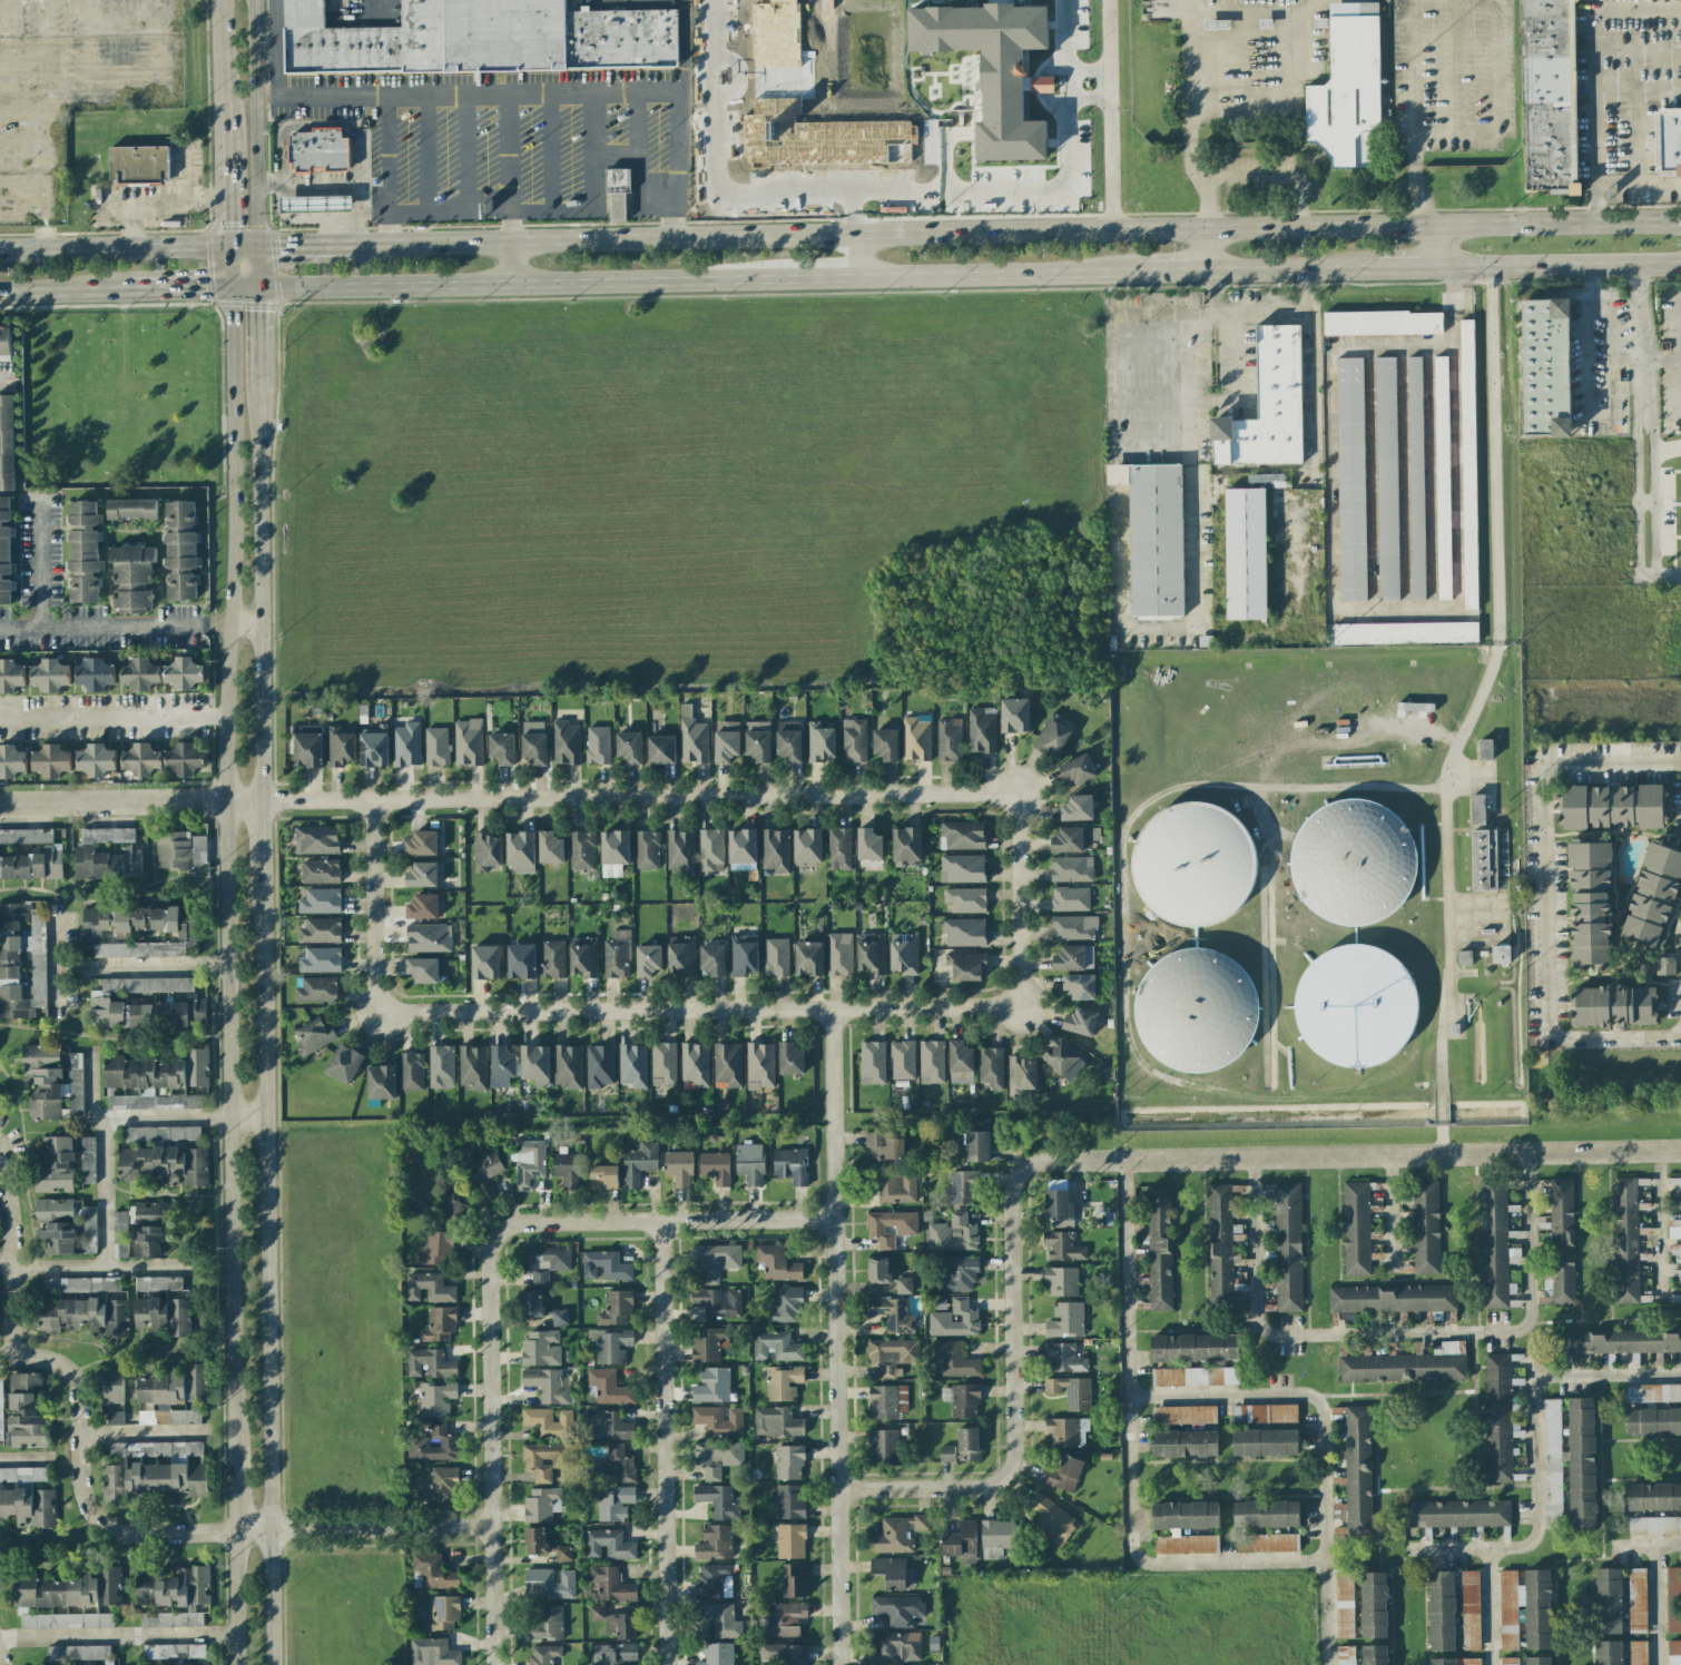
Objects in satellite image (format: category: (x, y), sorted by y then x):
road: (1417, 6)
building: (482, 38)
road: (681, 43)
road: (217, 68)
building: (993, 69)
road: (1088, 70)
road: (1595, 72)
building: (1347, 87)
road: (543, 90)
building: (1550, 96)
road: (1287, 101)
road: (1109, 114)
road: (256, 122)
road: (592, 124)
road: (636, 125)
road: (318, 126)
road: (47, 132)
road: (1188, 132)
building: (1670, 140)
building: (318, 150)
road: (463, 150)
road: (508, 150)
road: (549, 150)
road: (426, 151)
building: (138, 165)
road: (393, 167)
road: (1418, 180)
road: (1638, 184)
road: (332, 188)
building: (617, 190)
road: (1035, 190)
road: (334, 191)
road: (224, 193)
road: (296, 193)
road: (316, 193)
road: (296, 204)
building: (315, 204)
road: (316, 204)
road: (334, 204)
road: (1210, 204)
road: (563, 210)
road: (42, 215)
road: (296, 215)
road: (317, 215)
road: (334, 215)
road: (298, 219)
road: (510, 224)
road: (1016, 230)
road: (305, 245)
road: (1437, 246)
road: (242, 247)
traffic signals: (257, 247)
traffic signals: (227, 248)
road: (1210, 248)
road: (112, 249)
road: (855, 255)
road: (510, 260)
road: (1559, 264)
road: (228, 266)
road: (257, 266)
road: (1405, 267)
road: (1291, 268)
road: (1173, 269)
road: (996, 274)
road: (822, 277)
road: (509, 283)
traffic signals: (229, 285)
traffic signals: (258, 285)
road: (177, 286)
road: (62, 290)
road: (1309, 292)
road: (1636, 311)
road: (1310, 322)
building: (1382, 323)
road: (1109, 328)
road: (1589, 336)
road: (258, 338)
building: (4, 339)
road: (1233, 357)
road: (1660, 357)
building: (4, 358)
building: (1545, 367)
road: (1606, 375)
road: (3, 384)
building: (1267, 405)
road: (1462, 436)
building: (6, 443)
building: (1468, 464)
building: (1416, 477)
building: (1442, 477)
road: (1331, 479)
building: (1350, 479)
building: (1386, 479)
road: (1641, 484)
road: (1249, 501)
building: (130, 509)
building: (1153, 536)
building: (181, 550)
building: (83, 551)
building: (4, 552)
building: (1245, 553)
road: (1193, 571)
road: (43, 577)
building: (132, 577)
road: (258, 595)
road: (244, 625)
road: (115, 631)
building: (1405, 632)
building: (184, 672)
building: (11, 673)
building: (95, 673)
building: (139, 673)
building: (50, 674)
building: (1415, 707)
road: (1473, 710)
building: (1013, 715)
road: (111, 717)
building: (981, 730)
building: (1052, 735)
building: (691, 737)
building: (915, 738)
building: (947, 739)
building: (757, 740)
building: (788, 740)
building: (854, 740)
building: (726, 741)
building: (468, 742)
building: (533, 742)
building: (566, 742)
building: (820, 742)
building: (885, 743)
building: (405, 745)
building: (598, 745)
building: (340, 747)
building: (374, 747)
building: (436, 747)
building: (629, 747)
building: (501, 748)
building: (307, 749)
building: (660, 749)
building: (1485, 749)
building: (185, 758)
building: (140, 759)
building: (51, 760)
building: (96, 760)
building: (12, 761)
road: (1612, 762)
building: (1078, 769)
road: (508, 796)
building: (1612, 806)
building: (1078, 808)
building: (1477, 809)
building: (112, 835)
building: (961, 835)
building: (315, 839)
building: (1074, 839)
road: (259, 840)
building: (422, 844)
building: (906, 844)
building: (868, 845)
building: (807, 846)
building: (549, 847)
building: (838, 848)
building: (178, 849)
building: (647, 849)
building: (741, 849)
building: (581, 850)
building: (710, 850)
building: (775, 850)
building: (485, 851)
building: (520, 851)
building: (679, 851)
building: (613, 853)
building: (29, 854)
building: (1484, 860)
building: (107, 863)
building: (1355, 863)
storage tank: (1355, 863)
building: (1193, 866)
storage tank: (1193, 866)
road: (224, 867)
building: (962, 868)
building: (1071, 868)
building: (320, 871)
building: (422, 875)
building: (1652, 894)
building: (1069, 898)
building: (965, 899)
building: (320, 900)
road: (1544, 900)
road: (1016, 902)
building: (1590, 904)
road: (375, 906)
building: (422, 906)
road: (1476, 912)
building: (139, 920)
building: (1072, 927)
building: (320, 930)
building: (963, 932)
building: (427, 938)
building: (138, 949)
building: (871, 953)
building: (903, 953)
building: (617, 954)
building: (839, 954)
building: (1501, 954)
building: (743, 955)
building: (583, 956)
building: (680, 956)
building: (776, 957)
building: (1073, 957)
building: (1464, 957)
building: (553, 958)
building: (808, 958)
building: (320, 959)
building: (712, 959)
building: (21, 960)
building: (520, 960)
building: (648, 960)
building: (484, 962)
building: (965, 965)
building: (1664, 966)
road: (130, 968)
building: (426, 969)
building: (147, 985)
building: (1079, 986)
building: (316, 991)
building: (1355, 1006)
storage tank: (1355, 1006)
building: (1613, 1006)
building: (147, 1013)
road: (697, 1013)
building: (1196, 1013)
storage tank: (1196, 1013)
building: (1080, 1022)
building: (314, 1035)
road: (1613, 1037)
building: (790, 1058)
building: (902, 1060)
building: (1063, 1060)
building: (960, 1061)
building: (931, 1062)
building: (343, 1063)
building: (872, 1063)
building: (502, 1064)
building: (534, 1064)
building: (632, 1064)
building: (663, 1064)
building: (695, 1064)
building: (599, 1065)
building: (727, 1065)
building: (759, 1065)
building: (441, 1066)
building: (472, 1066)
building: (567, 1066)
building: (991, 1067)
building: (158, 1071)
building: (411, 1071)
building: (1021, 1073)
road: (96, 1074)
building: (43, 1080)
building: (381, 1082)
building: (75, 1085)
building: (176, 1101)
road: (246, 1119)
building: (160, 1133)
building: (884, 1146)
building: (977, 1146)
road: (1110, 1159)
building: (87, 1160)
building: (529, 1163)
building: (638, 1163)
building: (749, 1163)
building: (55, 1165)
building: (163, 1165)
building: (790, 1165)
building: (678, 1168)
building: (715, 1168)
building: (567, 1169)
building: (485, 1172)
building: (603, 1176)
building: (895, 1189)
building: (961, 1189)
building: (1680, 1190)
road: (111, 1194)
building: (1058, 1208)
building: (154, 1212)
road: (1394, 1213)
road: (1664, 1223)
building: (56, 1224)
building: (889, 1226)
building: (1425, 1228)
building: (88, 1229)
building: (1356, 1229)
building: (1675, 1232)
building: (119, 1233)
building: (952, 1234)
building: (1625, 1240)
building: (150, 1241)
building: (1562, 1241)
building: (1220, 1242)
building: (1494, 1243)
building: (1062, 1247)
building: (1288, 1247)
building: (1159, 1248)
building: (435, 1249)
building: (714, 1260)
building: (543, 1262)
building: (776, 1263)
building: (604, 1265)
road: (13, 1268)
road: (92, 1269)
building: (877, 1270)
road: (265, 1273)
building: (959, 1273)
road: (489, 1279)
building: (1061, 1281)
building: (157, 1283)
building: (80, 1284)
building: (903, 1285)
building: (429, 1288)
building: (1392, 1298)
building: (531, 1303)
building: (716, 1303)
building: (785, 1306)
building: (616, 1308)
building: (892, 1314)
building: (164, 1316)
building: (85, 1317)
building: (559, 1317)
building: (954, 1320)
building: (1065, 1320)
building: (440, 1324)
road: (1394, 1330)
road: (837, 1338)
building: (1621, 1341)
building: (708, 1343)
building: (610, 1344)
building: (775, 1347)
building: (540, 1348)
building: (1195, 1348)
building: (892, 1356)
building: (1063, 1358)
building: (955, 1359)
building: (429, 1363)
building: (1405, 1366)
road: (60, 1368)
road: (1609, 1373)
building: (1196, 1377)
building: (783, 1382)
building: (547, 1385)
building: (711, 1386)
building: (111, 1387)
building: (609, 1387)
building: (174, 1392)
building: (1071, 1392)
building: (1653, 1393)
building: (436, 1398)
building: (887, 1401)
building: (964, 1401)
building: (26, 1411)
building: (1, 1412)
building: (1264, 1413)
building: (1183, 1415)
building: (115, 1417)
building: (1497, 1417)
building: (718, 1420)
building: (1652, 1421)
building: (548, 1422)
building: (776, 1422)
building: (607, 1425)
road: (140, 1426)
building: (1066, 1431)
road: (1319, 1438)
road: (666, 1442)
building: (1265, 1442)
building: (433, 1444)
building: (967, 1444)
building: (1183, 1444)
road: (24, 1446)
building: (883, 1447)
building: (158, 1450)
road: (1129, 1452)
building: (946, 1454)
building: (716, 1457)
building: (547, 1459)
building: (788, 1462)
building: (1582, 1462)
building: (1552, 1464)
building: (611, 1466)
building: (1357, 1469)
building: (22, 1474)
building: (1062, 1474)
building: (153, 1480)
building: (440, 1486)
road: (232, 1489)
building: (1653, 1497)
building: (717, 1500)
building: (789, 1501)
building: (613, 1503)
building: (541, 1504)
road: (1539, 1506)
building: (28, 1507)
building: (1266, 1514)
building: (1456, 1514)
building: (1050, 1517)
road: (361, 1525)
building: (1654, 1526)
road: (116, 1527)
building: (1186, 1527)
building: (898, 1534)
building: (996, 1537)
building: (534, 1539)
building: (790, 1540)
building: (714, 1543)
building: (961, 1543)
building: (1266, 1543)
road: (1645, 1543)
building: (608, 1545)
building: (562, 1553)
building: (433, 1572)
building: (893, 1573)
building: (714, 1580)
building: (793, 1582)
building: (610, 1584)
building: (109, 1585)
building: (56, 1590)
building: (174, 1596)
road: (232, 1597)
building: (1673, 1599)
building: (1621, 1600)
building: (1344, 1604)
road: (1657, 1604)
building: (1374, 1605)
road: (1488, 1607)
building: (1525, 1608)
building: (897, 1609)
building: (1442, 1610)
building: (442, 1613)
building: (720, 1619)
building: (780, 1619)
building: (67, 1620)
building: (615, 1622)
building: (545, 1625)
road: (102, 1633)
building: (896, 1647)
building: (174, 1651)
building: (78, 1652)
building: (1635, 1652)
building: (1674, 1652)
building: (432, 1653)
building: (1609, 1653)
building: (542, 1654)
building: (615, 1654)
building: (717, 1654)
building: (784, 1654)
building: (1346, 1655)
building: (1375, 1655)
building: (1471, 1661)
building: (1510, 1661)
building: (1539, 1661)
building: (1443, 1662)

